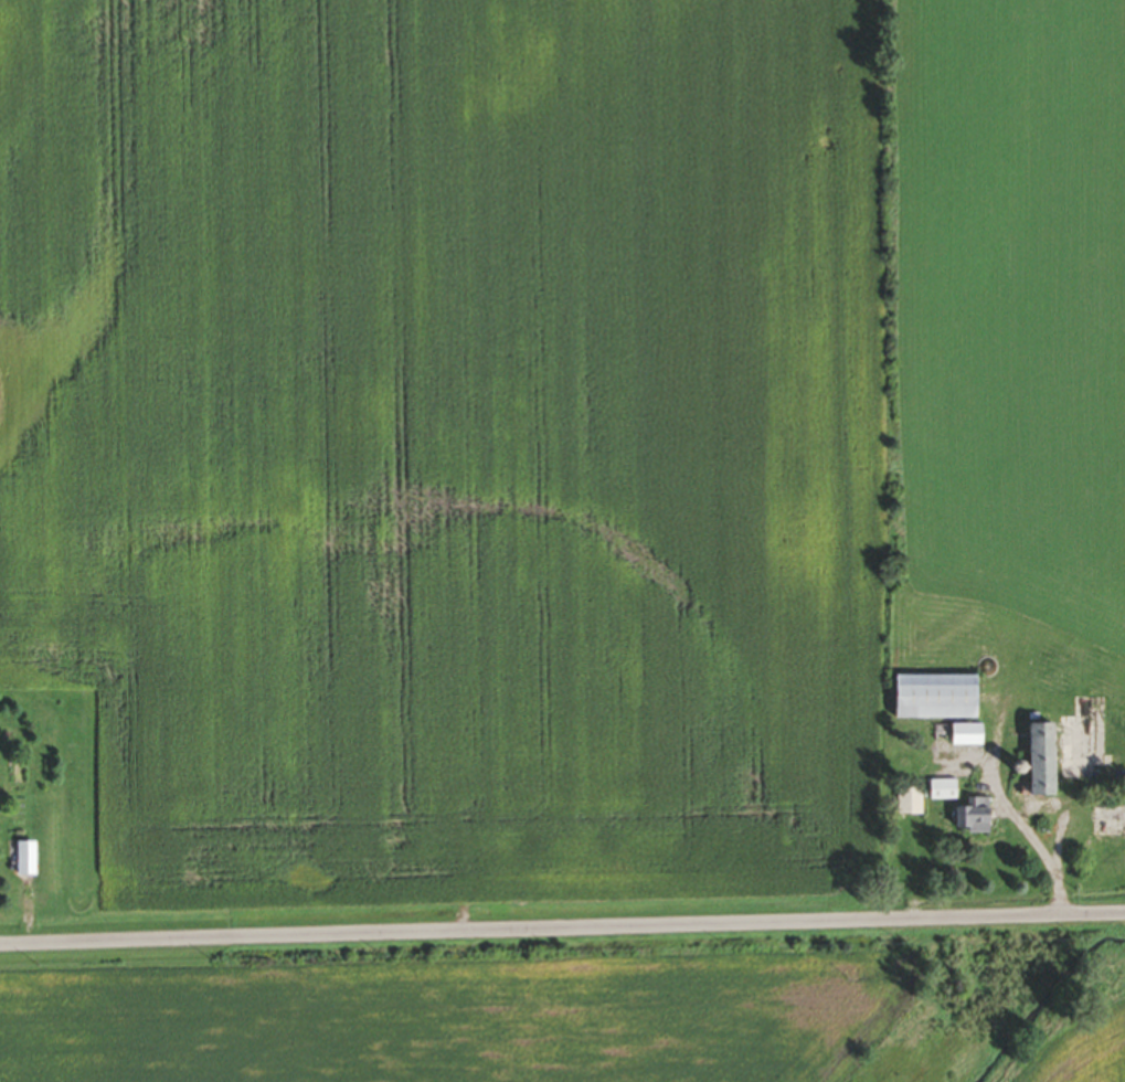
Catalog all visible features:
building: (932, 699)
building: (963, 736)
building: (1036, 762)
building: (940, 792)
building: (908, 804)
building: (970, 816)
road: (1021, 824)
building: (22, 860)
road: (562, 927)

